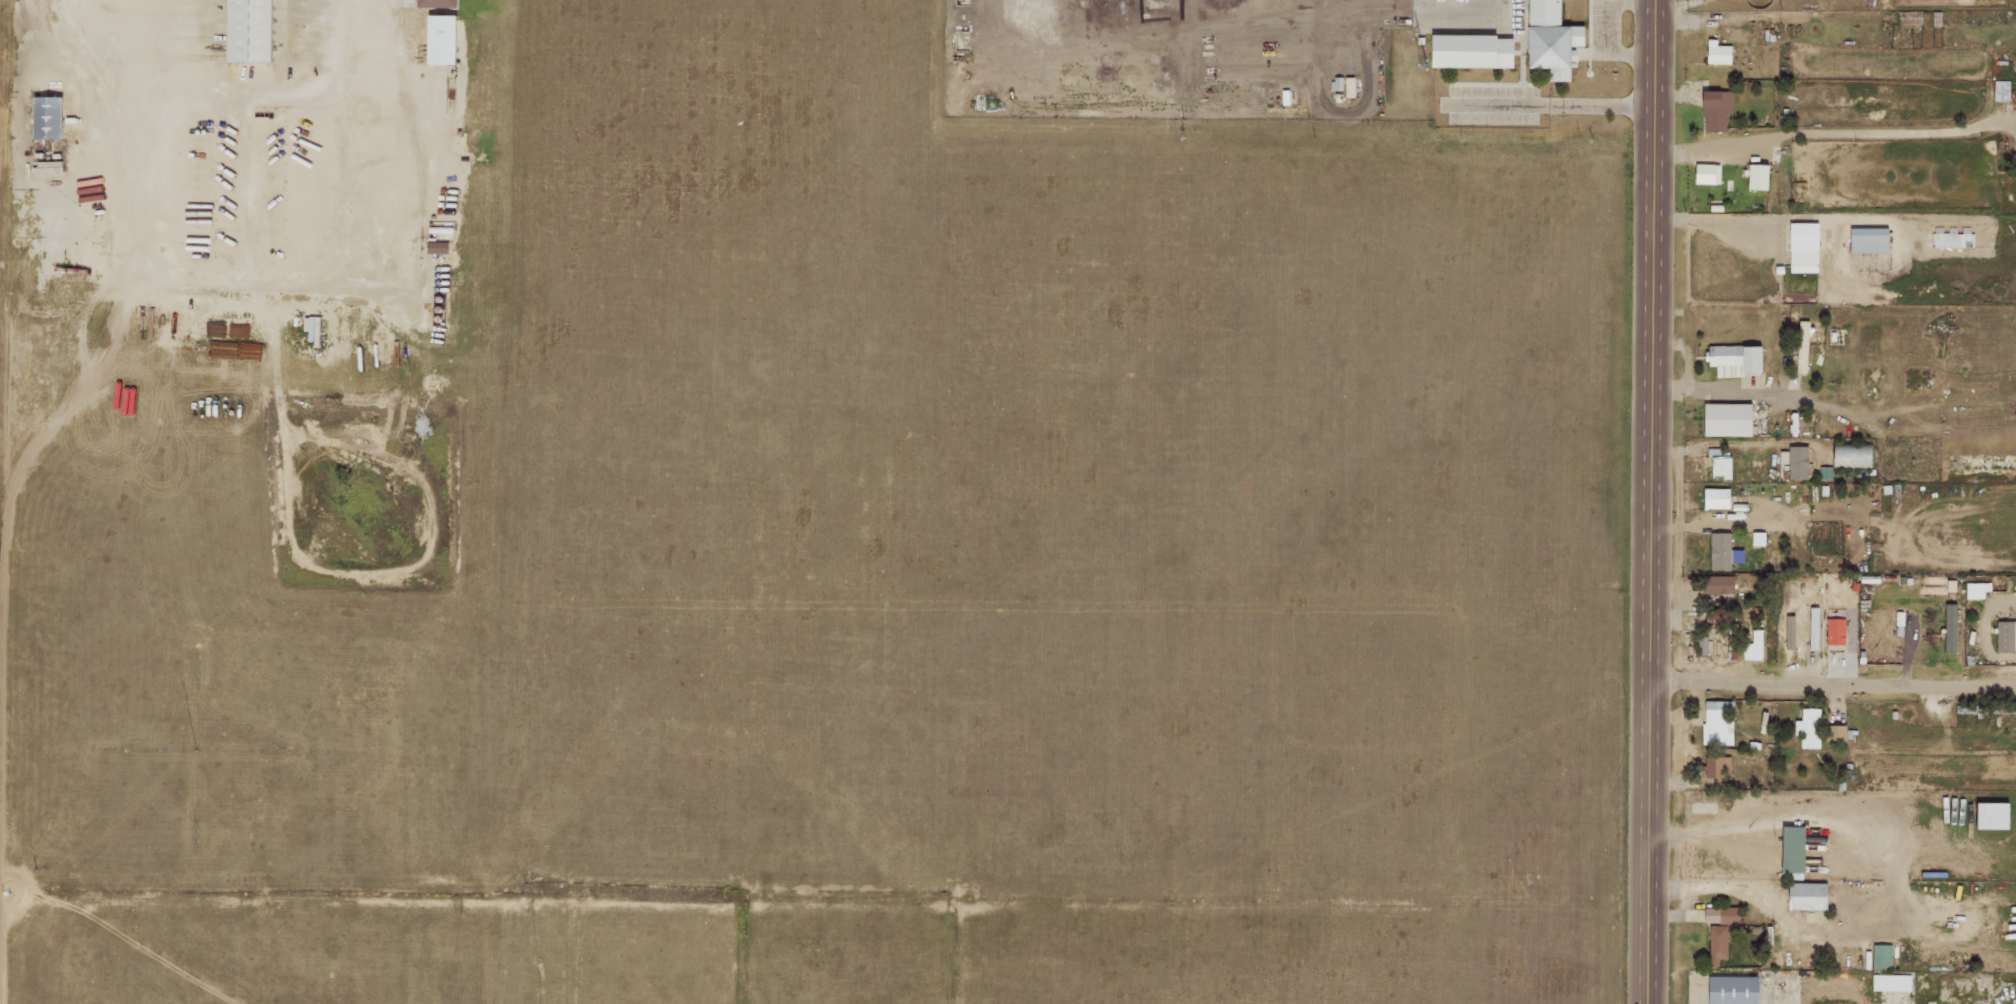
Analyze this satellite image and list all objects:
building: (437, 3)
building: (256, 30)
building: (445, 38)
building: (1547, 39)
building: (1465, 50)
building: (1716, 52)
building: (2000, 91)
building: (1714, 107)
building: (1705, 173)
building: (1754, 176)
building: (1868, 240)
building: (1951, 240)
building: (1803, 247)
building: (1800, 346)
building: (1732, 359)
building: (1727, 420)
building: (1847, 457)
building: (1794, 462)
building: (1718, 467)
building: (1824, 473)
building: (1714, 498)
road: (1653, 502)
building: (1756, 538)
building: (1720, 551)
building: (1717, 585)
building: (1976, 590)
building: (1812, 628)
building: (1948, 628)
building: (1833, 631)
building: (1788, 632)
building: (2005, 636)
building: (1701, 645)
building: (1755, 645)
road: (1834, 685)
building: (1716, 723)
building: (1807, 728)
building: (1835, 733)
building: (1716, 766)
building: (1987, 816)
building: (1790, 852)
building: (1803, 895)
building: (1718, 915)
building: (1715, 943)
building: (1880, 957)
building: (1890, 982)
building: (1729, 989)

